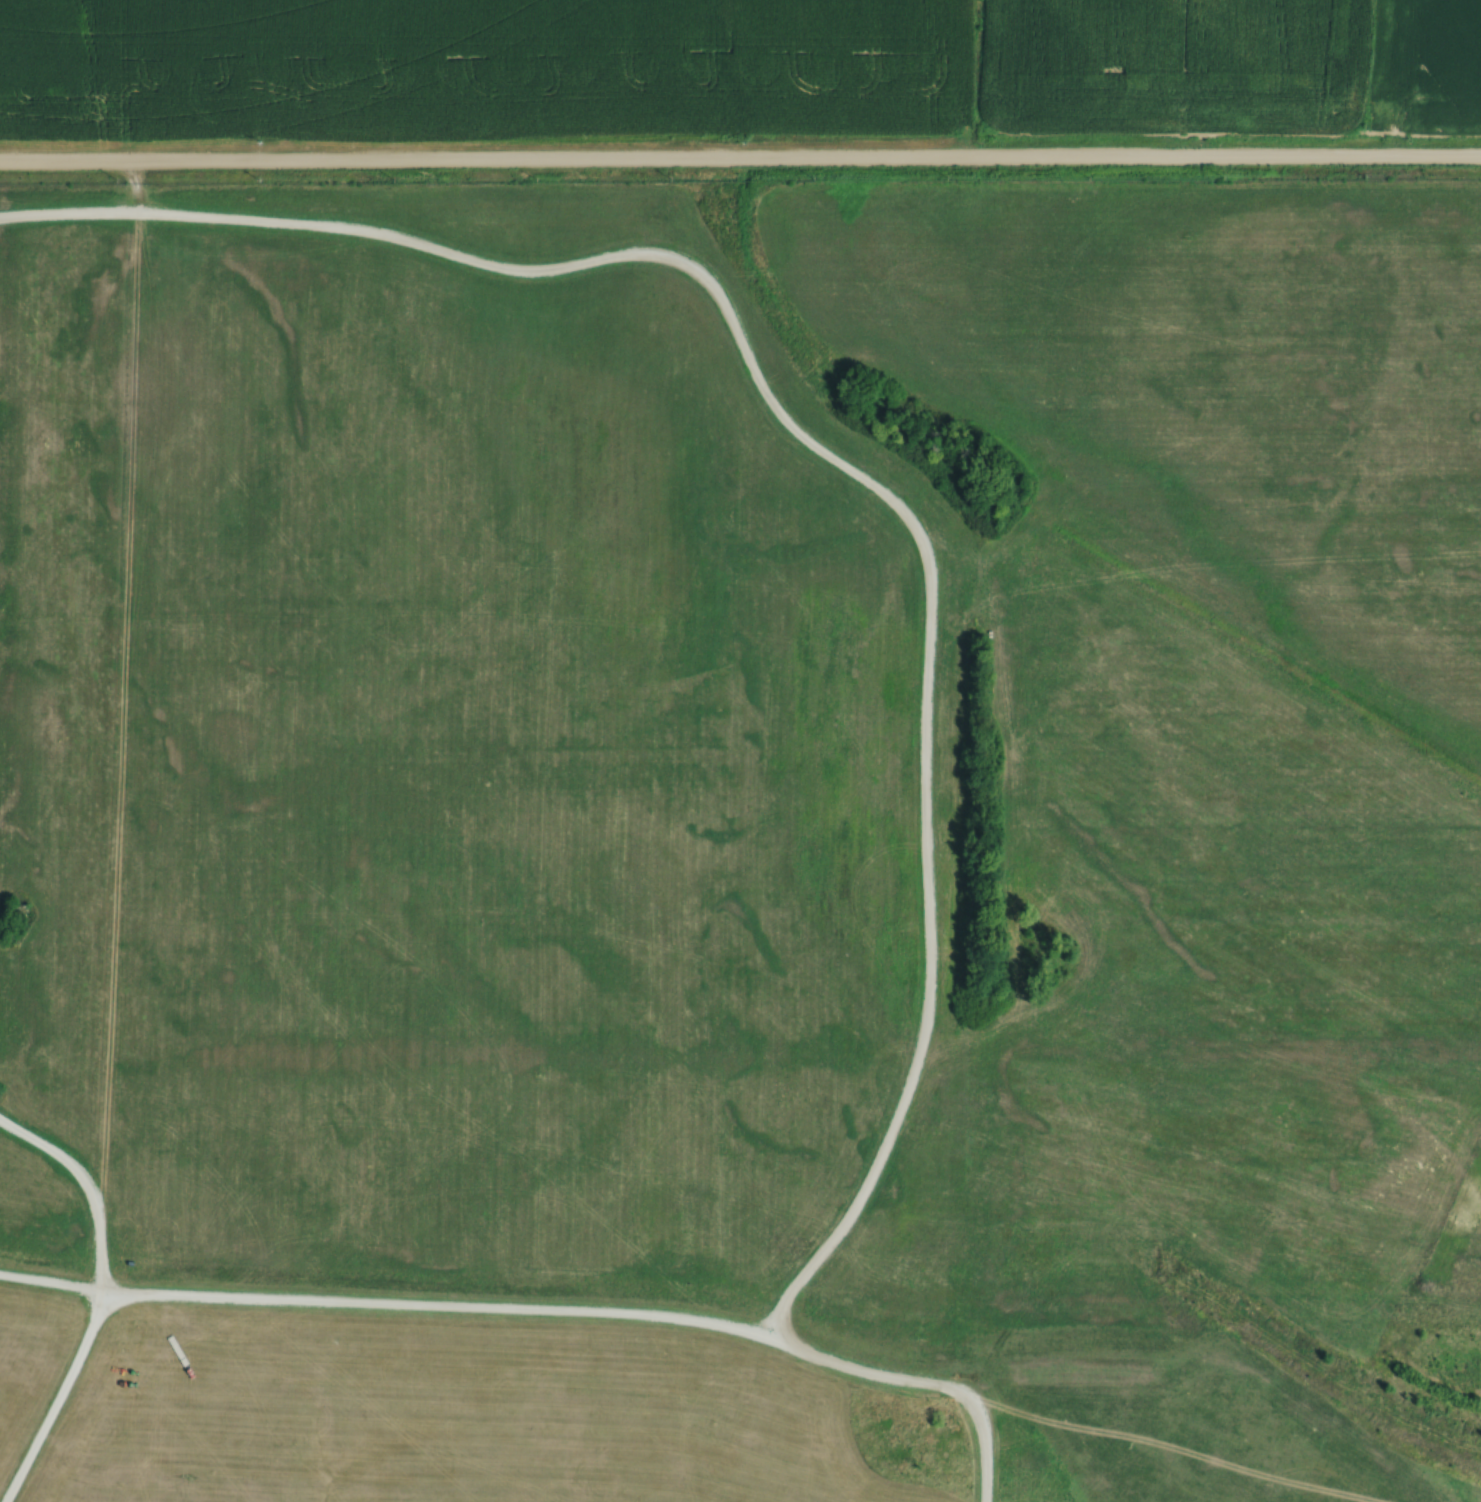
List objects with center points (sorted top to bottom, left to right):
road: (740, 163)
road: (830, 460)
road: (81, 1187)
road: (278, 1298)
road: (814, 1353)
road: (58, 1400)

